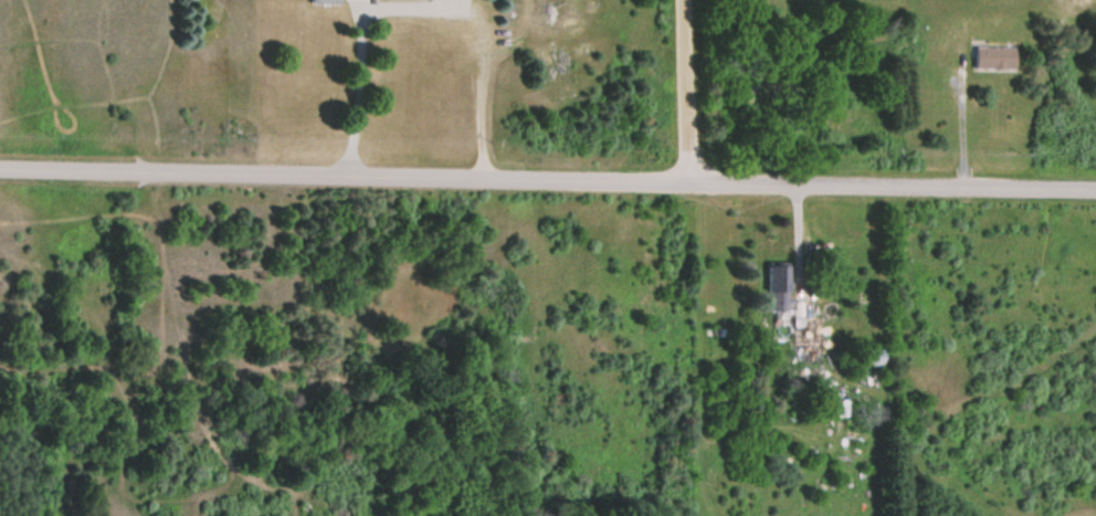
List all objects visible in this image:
building: (326, 1)
building: (993, 57)
road: (683, 91)
road: (547, 178)
building: (778, 277)
building: (803, 337)
building: (870, 355)

